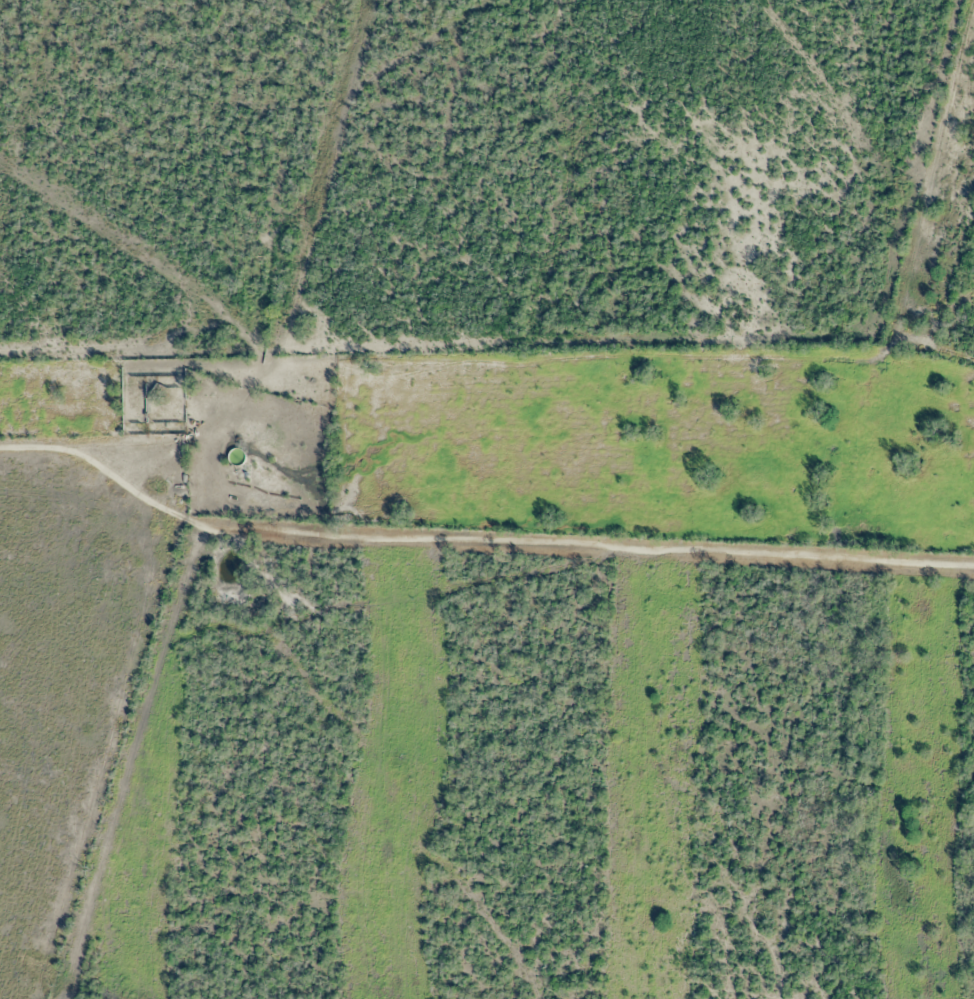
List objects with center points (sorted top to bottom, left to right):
road: (476, 540)
road: (131, 762)

